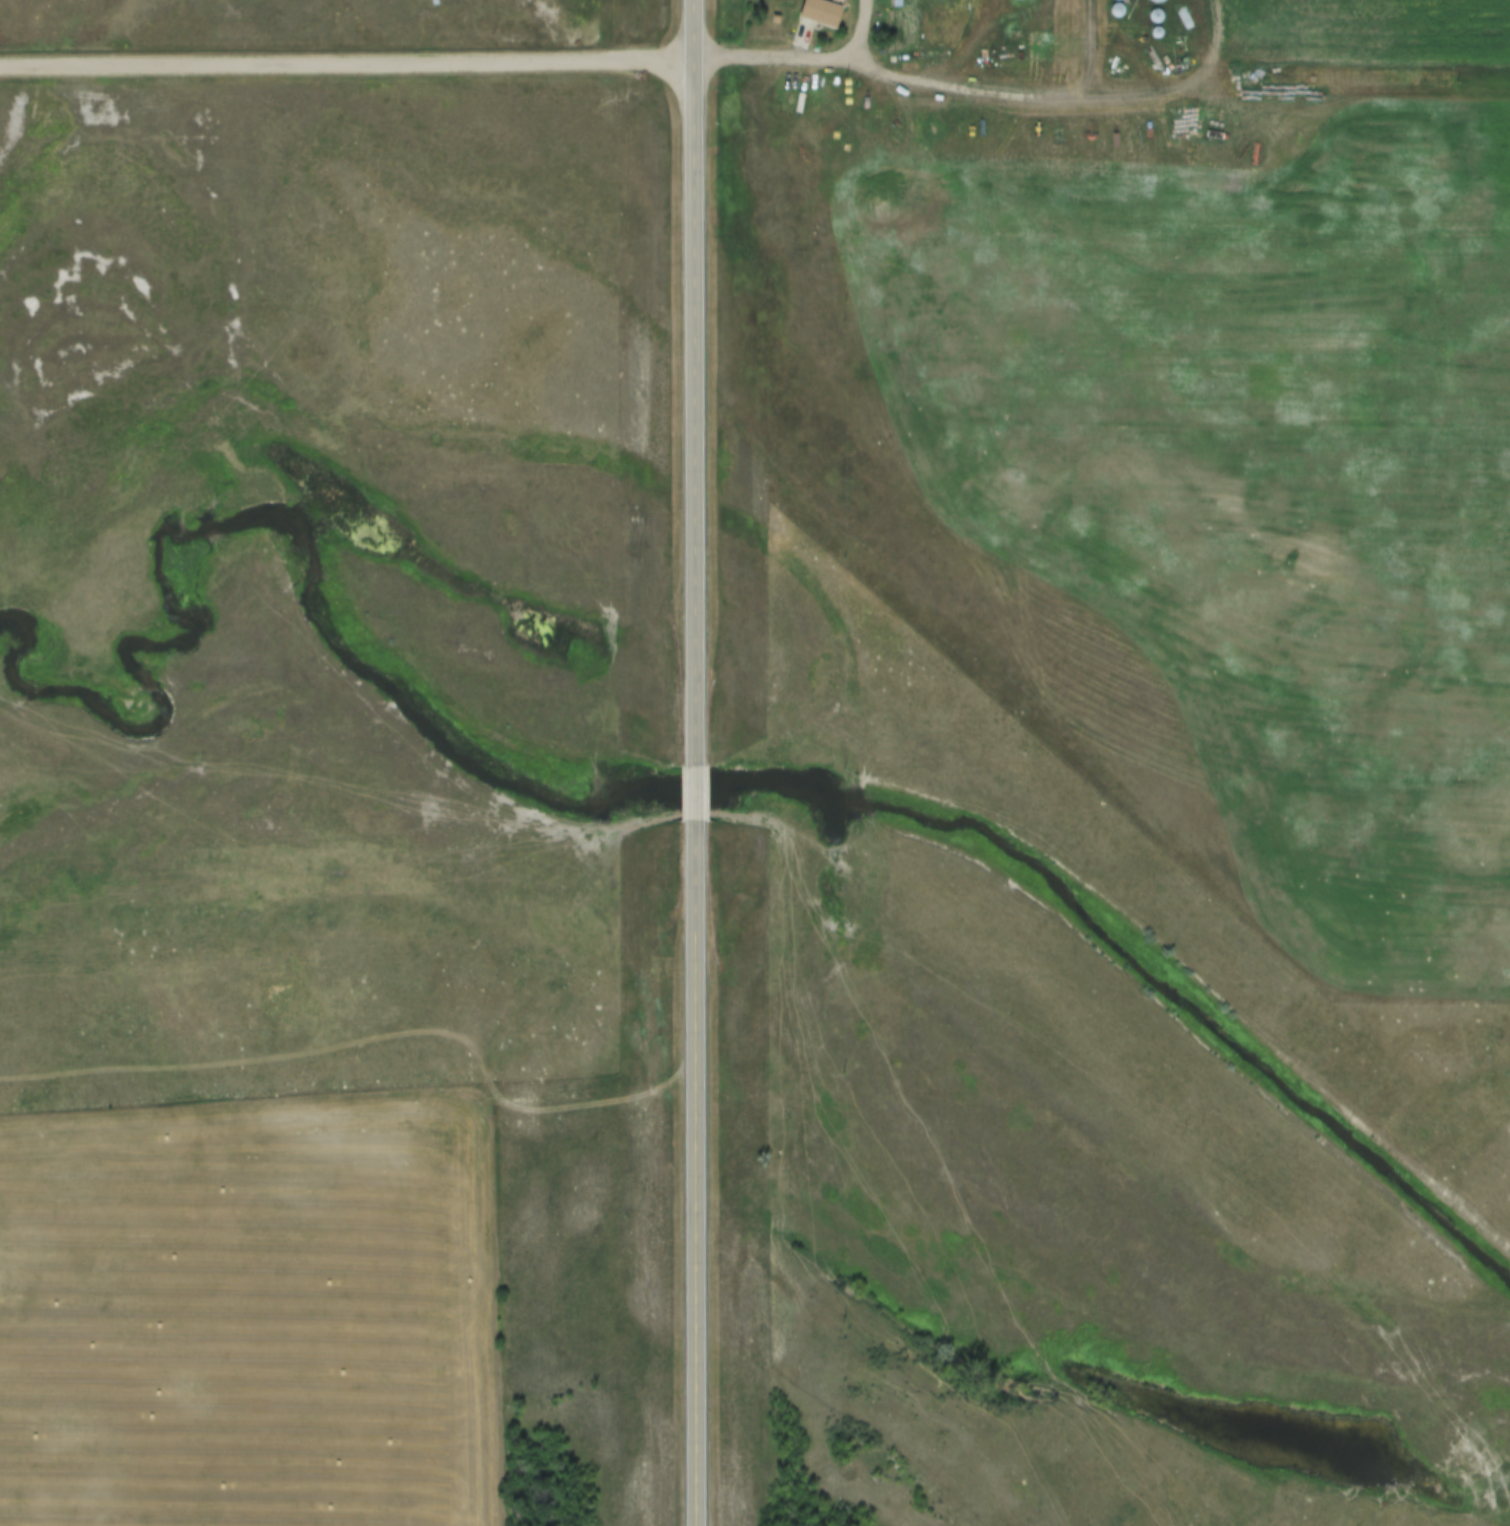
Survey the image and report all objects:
building: (1117, 0)
building: (1154, 1)
building: (1116, 11)
building: (818, 13)
road: (803, 58)
road: (348, 60)
road: (693, 382)
road: (688, 791)
road: (691, 1172)

